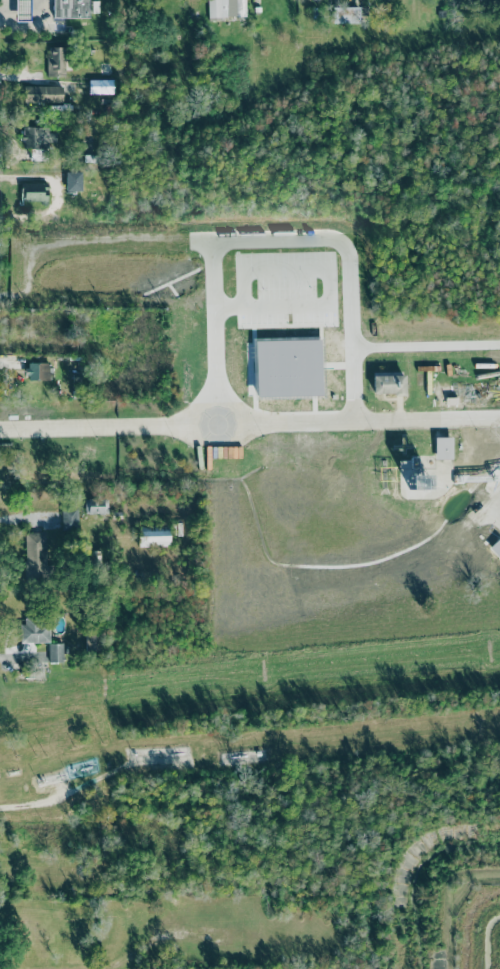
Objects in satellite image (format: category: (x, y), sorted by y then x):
building: (71, 8)
building: (226, 8)
building: (22, 10)
building: (345, 14)
building: (56, 61)
building: (43, 94)
building: (37, 137)
building: (74, 181)
building: (34, 193)
road: (315, 243)
building: (37, 371)
building: (388, 383)
road: (350, 385)
road: (356, 421)
road: (106, 427)
building: (444, 447)
building: (96, 505)
building: (69, 520)
building: (153, 537)
building: (35, 553)
building: (35, 630)
building: (55, 652)

